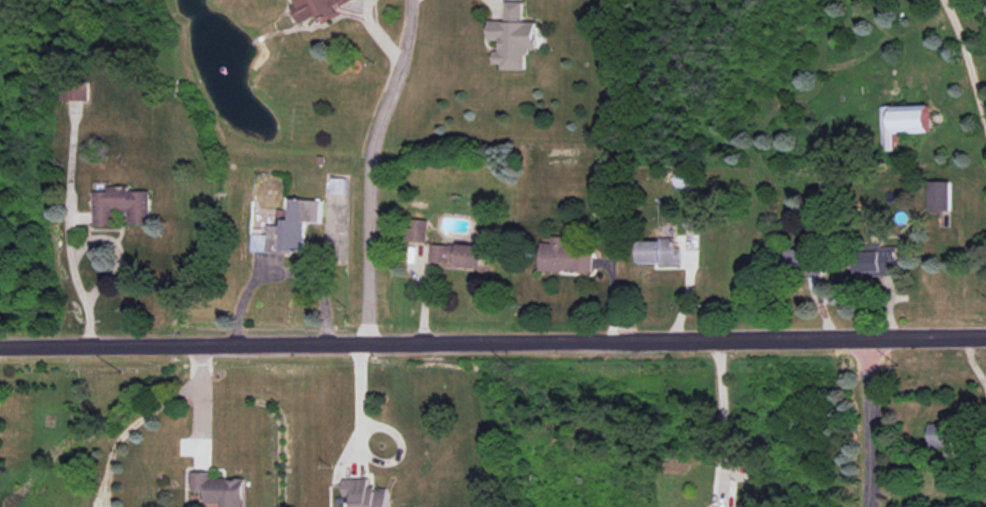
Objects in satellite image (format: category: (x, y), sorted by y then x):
building: (308, 11)
road: (378, 33)
building: (507, 34)
road: (967, 64)
building: (77, 91)
building: (896, 125)
road: (369, 169)
building: (685, 180)
building: (337, 185)
building: (934, 194)
building: (116, 200)
building: (292, 219)
building: (414, 229)
building: (654, 251)
building: (450, 252)
building: (561, 252)
building: (873, 260)
building: (801, 263)
road: (282, 270)
road: (77, 285)
road: (492, 343)
road: (199, 400)
road: (357, 400)
road: (724, 417)
road: (868, 423)
road: (126, 428)
building: (940, 436)
building: (212, 484)
building: (357, 490)

